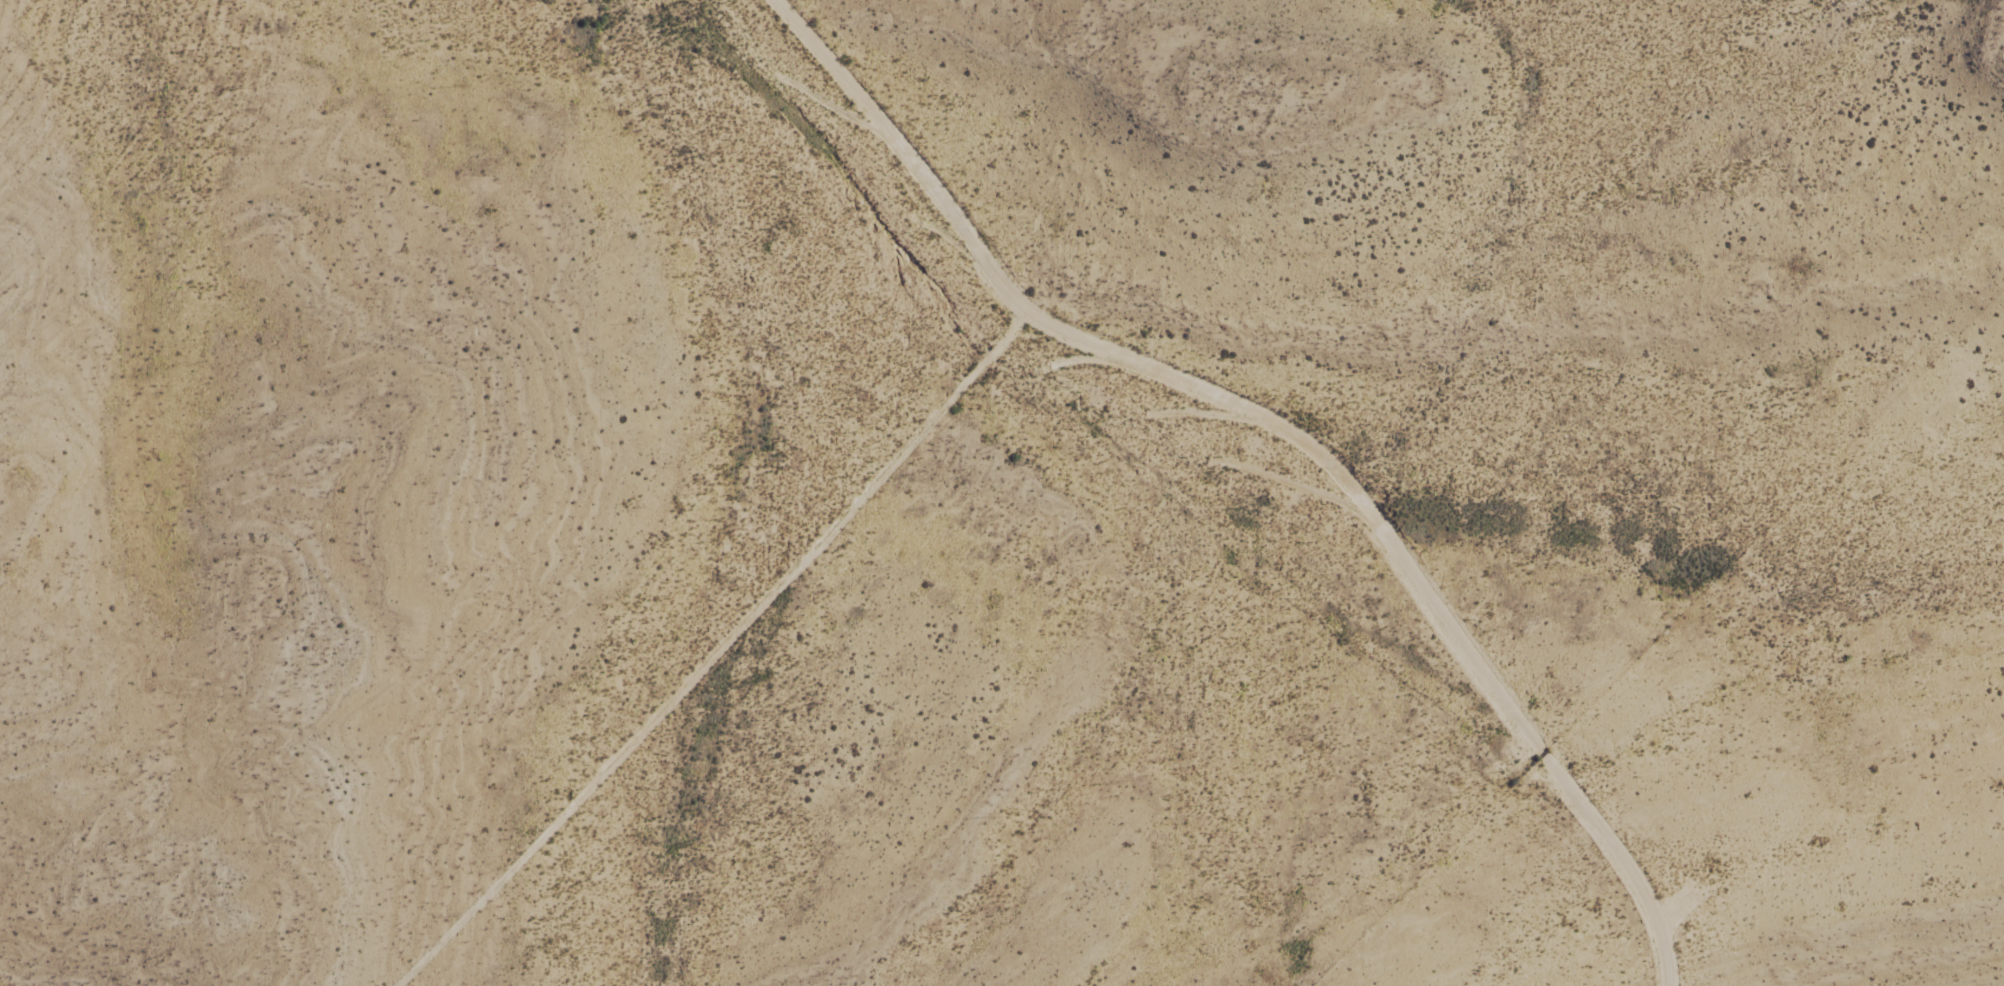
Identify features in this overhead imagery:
road: (1283, 430)

